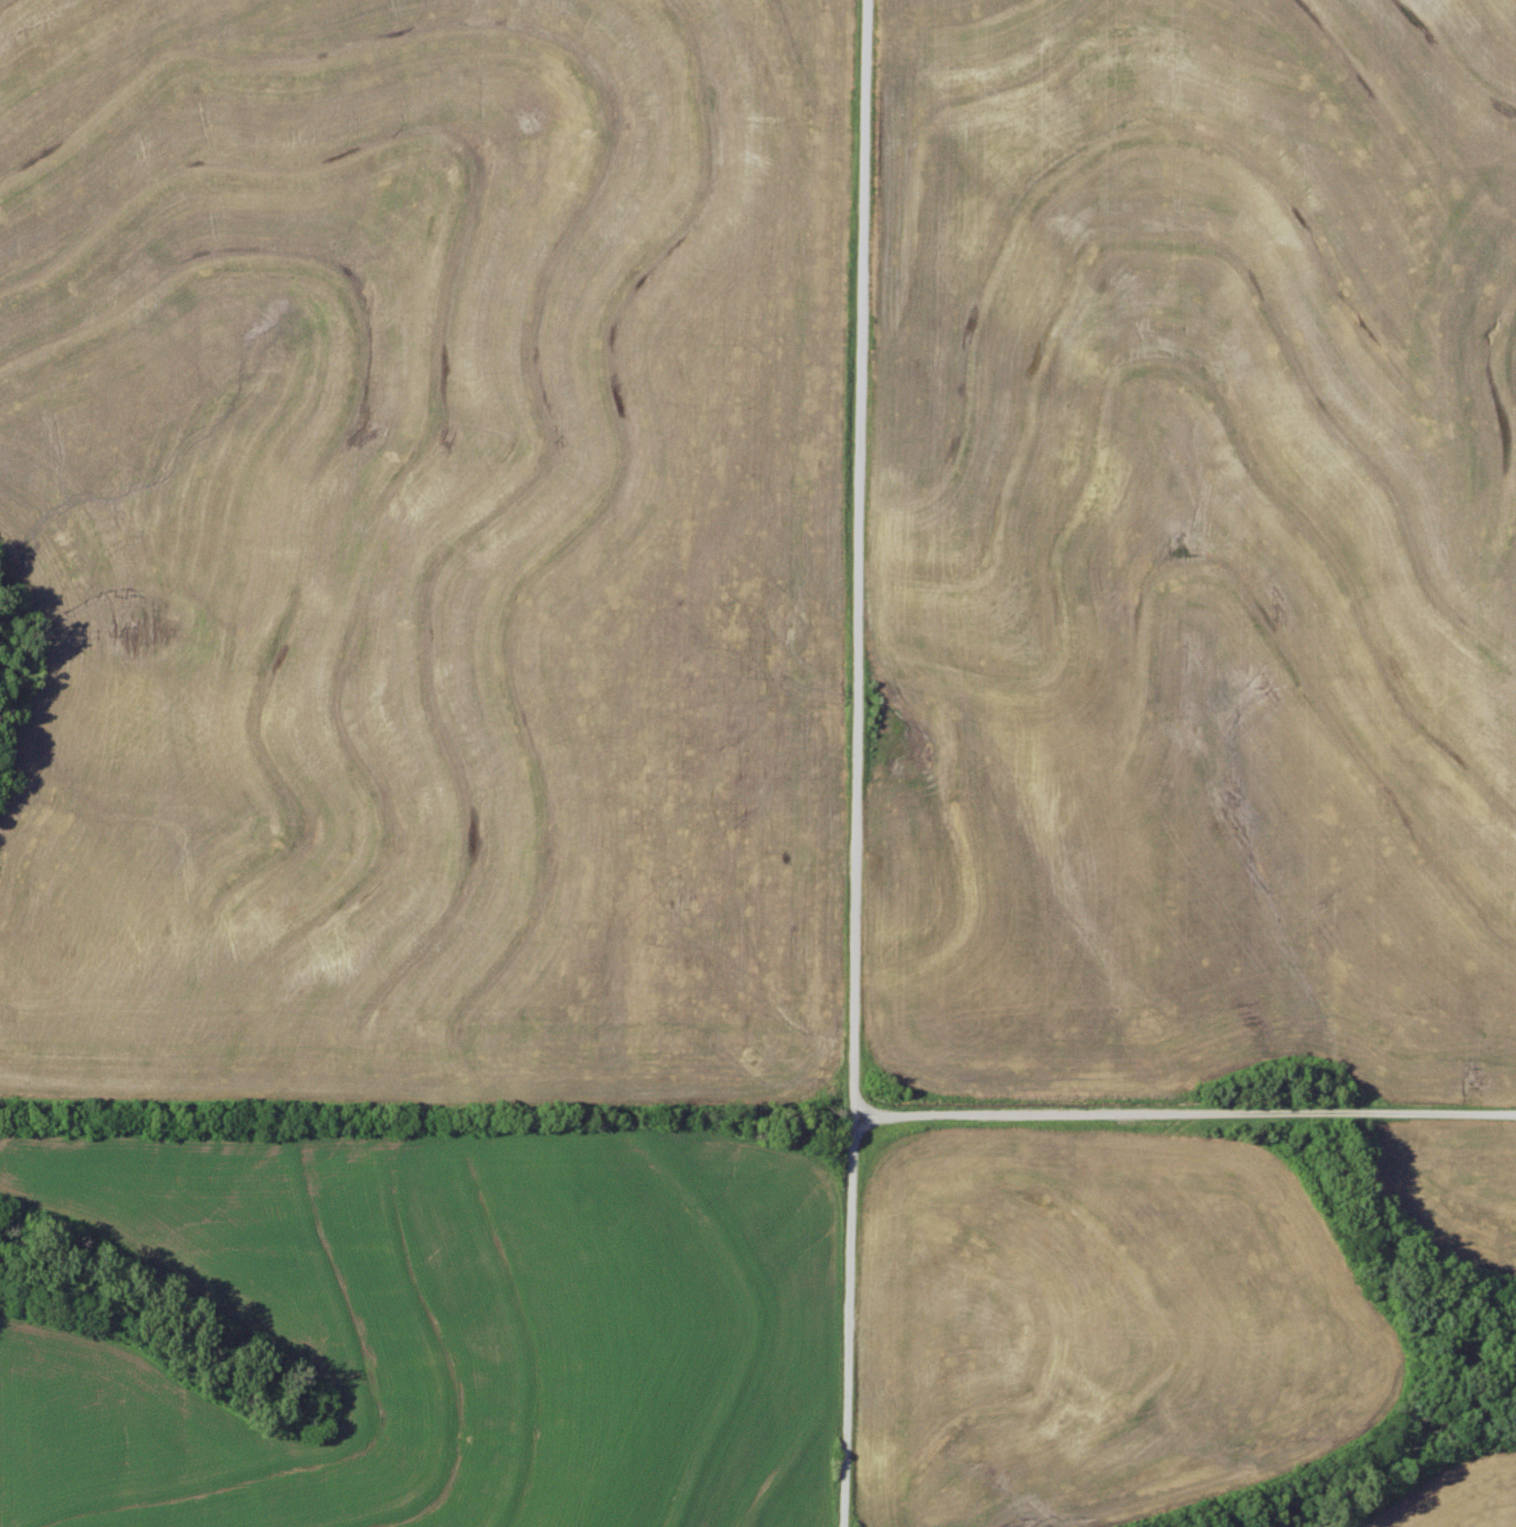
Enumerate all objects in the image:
road: (852, 763)
road: (1183, 1113)

